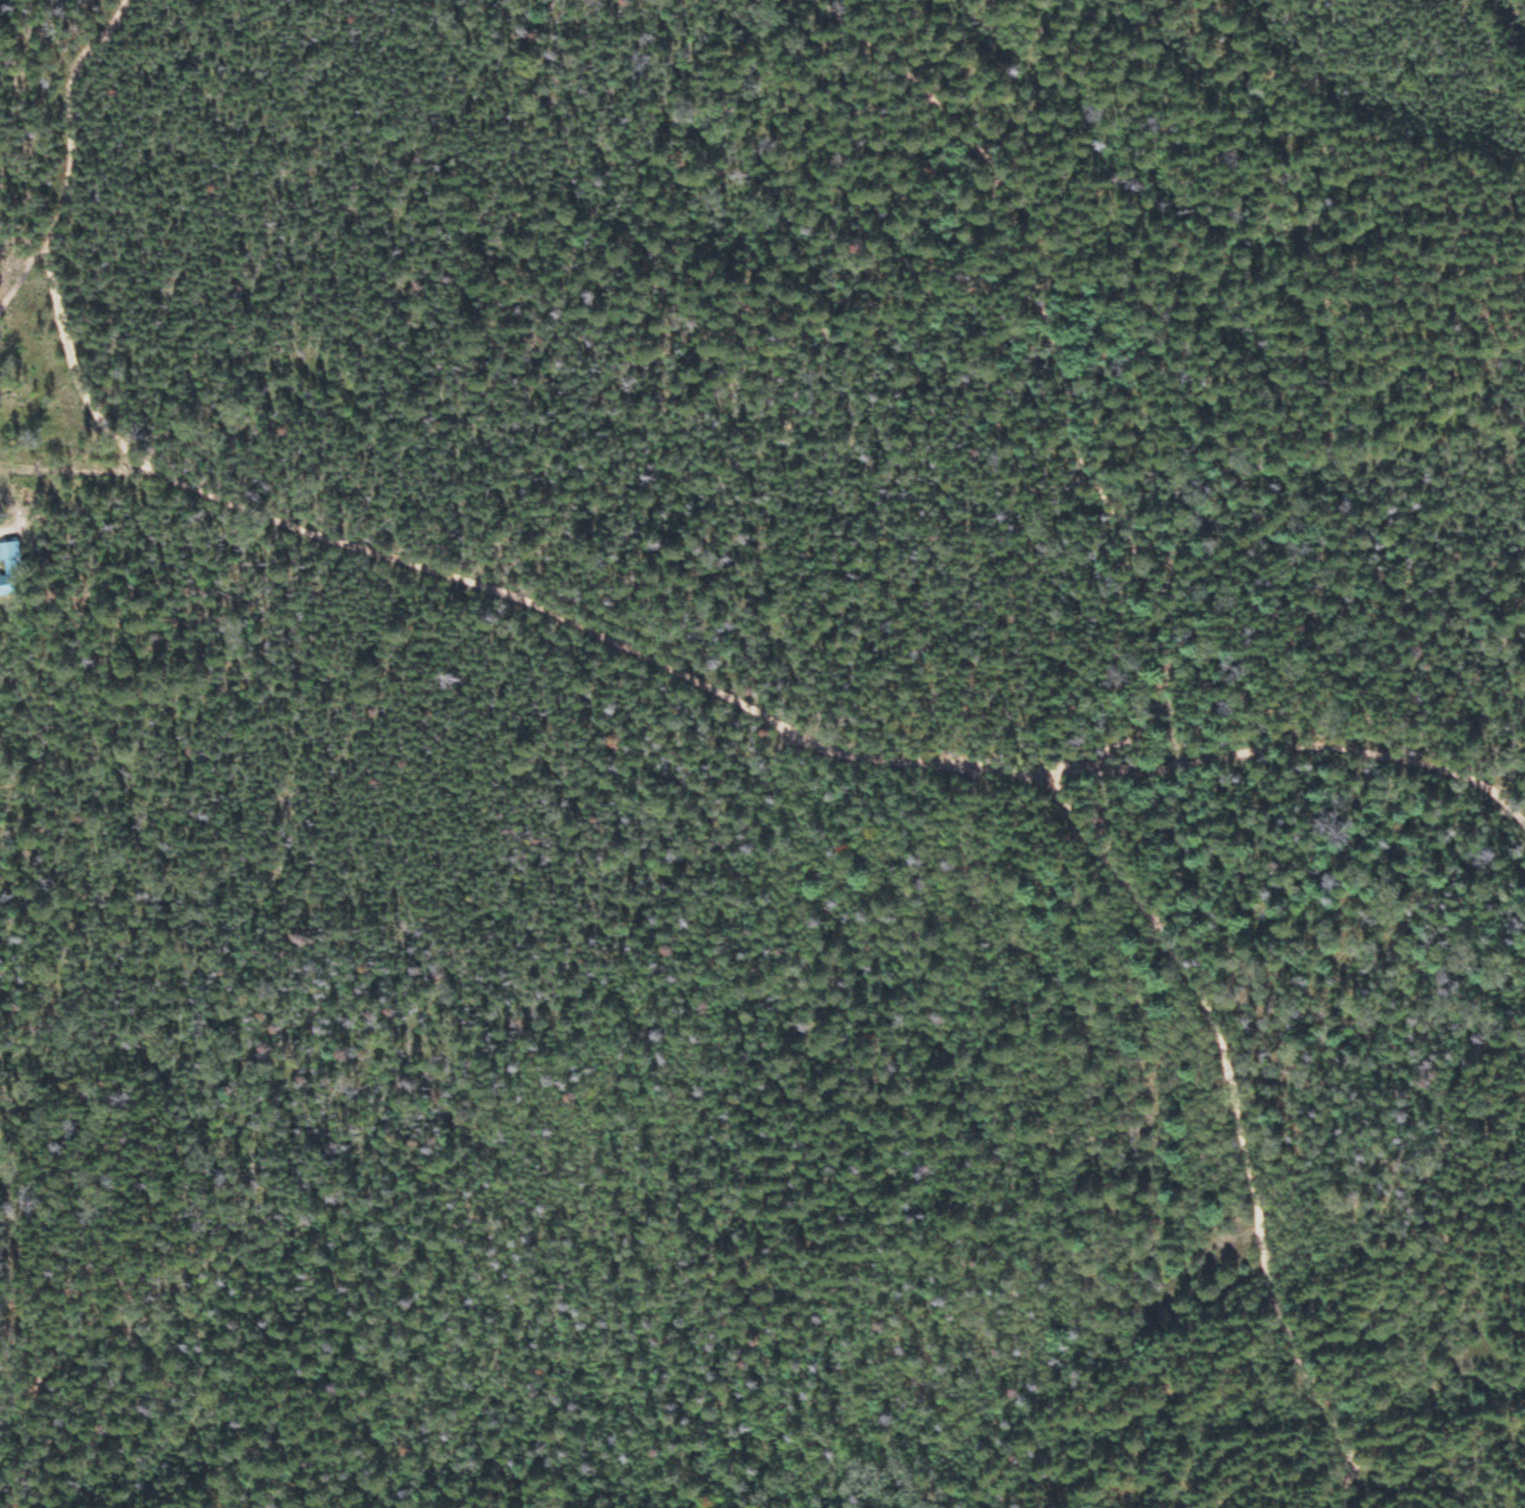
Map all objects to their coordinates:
road: (917, 80)
road: (60, 232)
road: (1064, 369)
building: (11, 555)
building: (5, 588)
road: (598, 631)
road: (1368, 745)
road: (1244, 1120)

